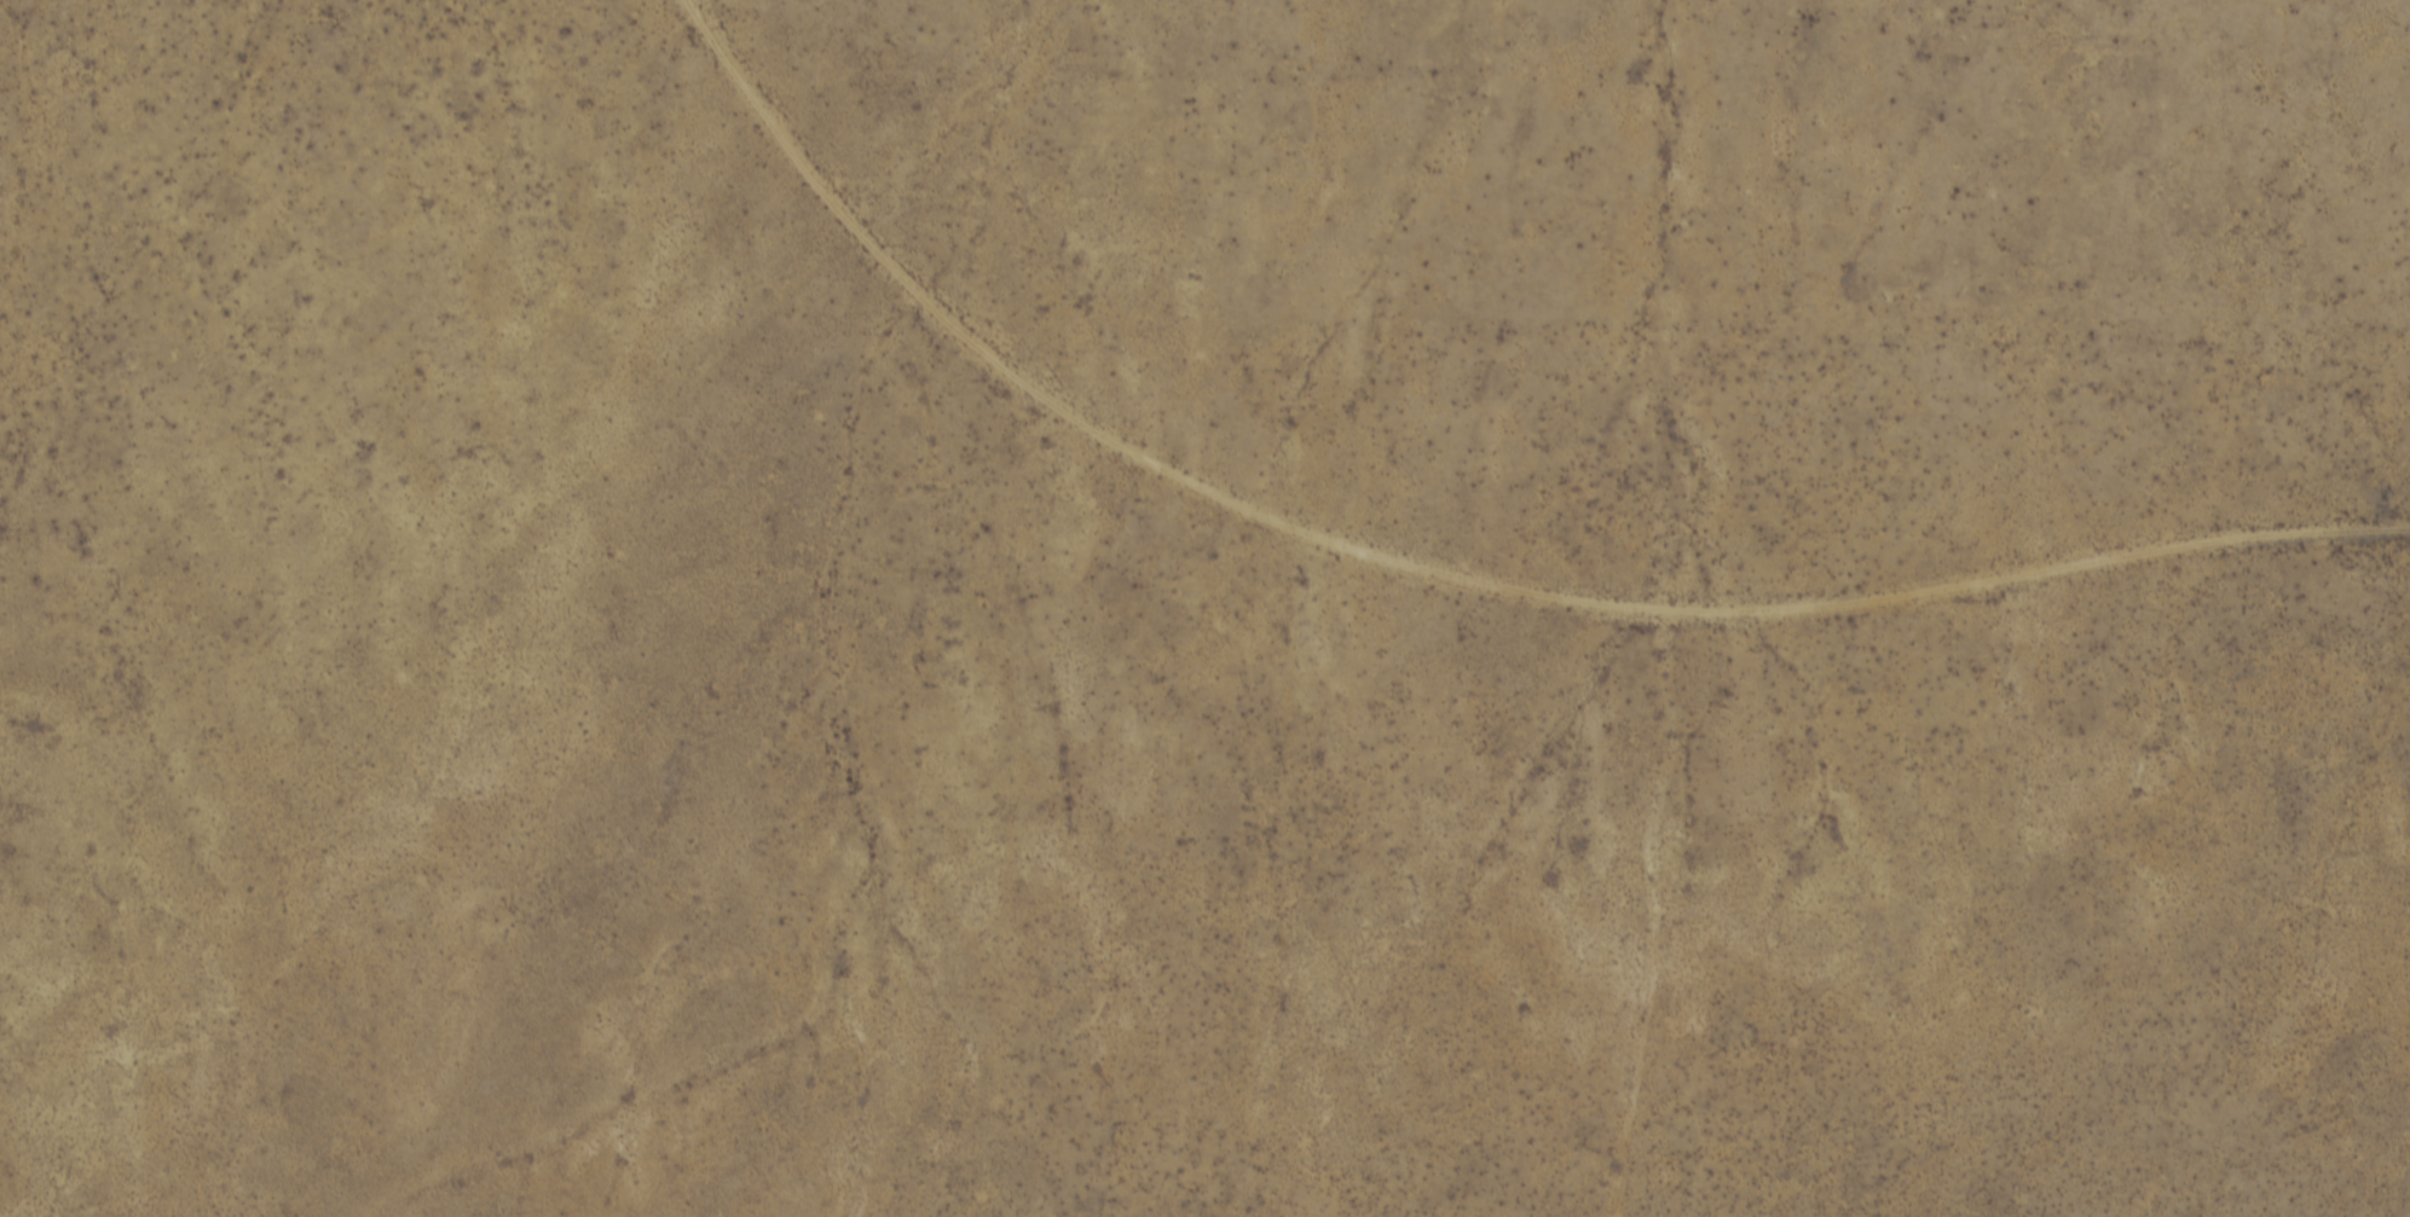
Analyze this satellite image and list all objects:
road: (1434, 592)

